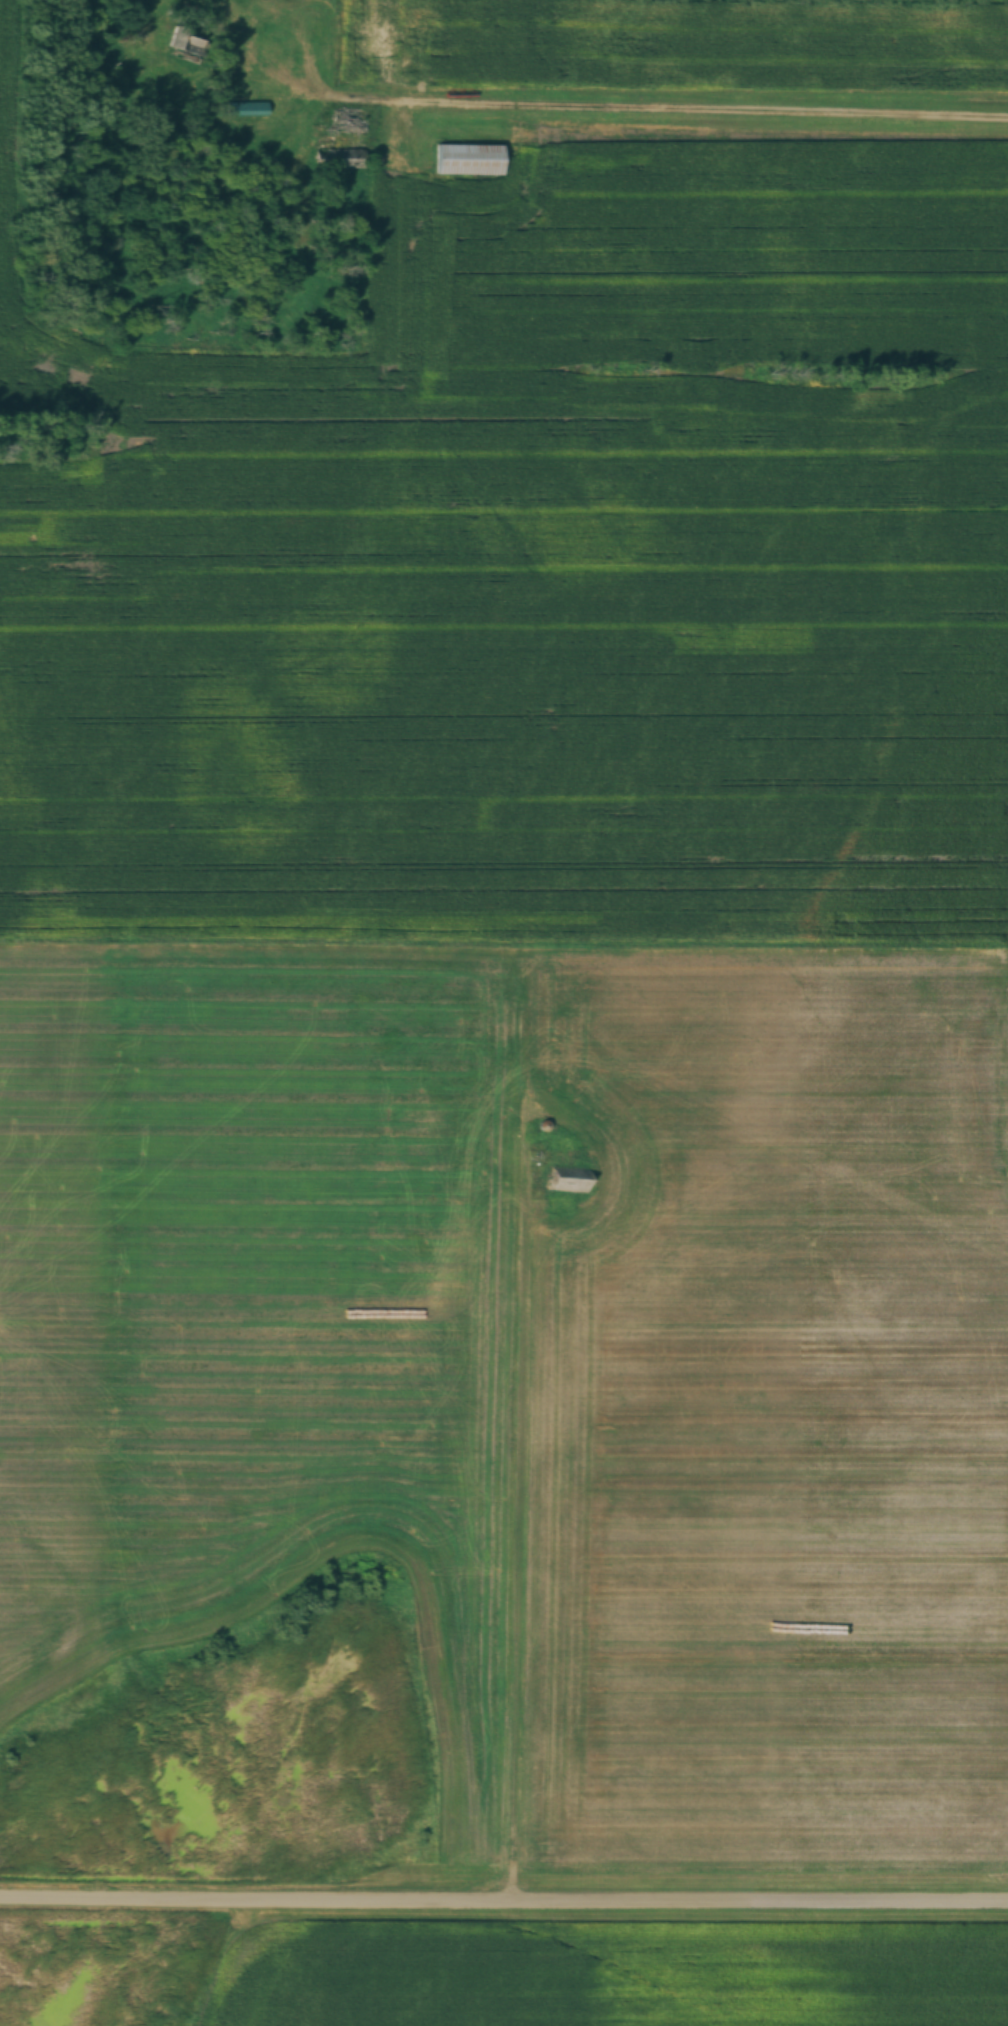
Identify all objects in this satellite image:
building: (184, 41)
building: (246, 109)
building: (339, 159)
building: (468, 159)
building: (562, 1180)
road: (504, 1897)

